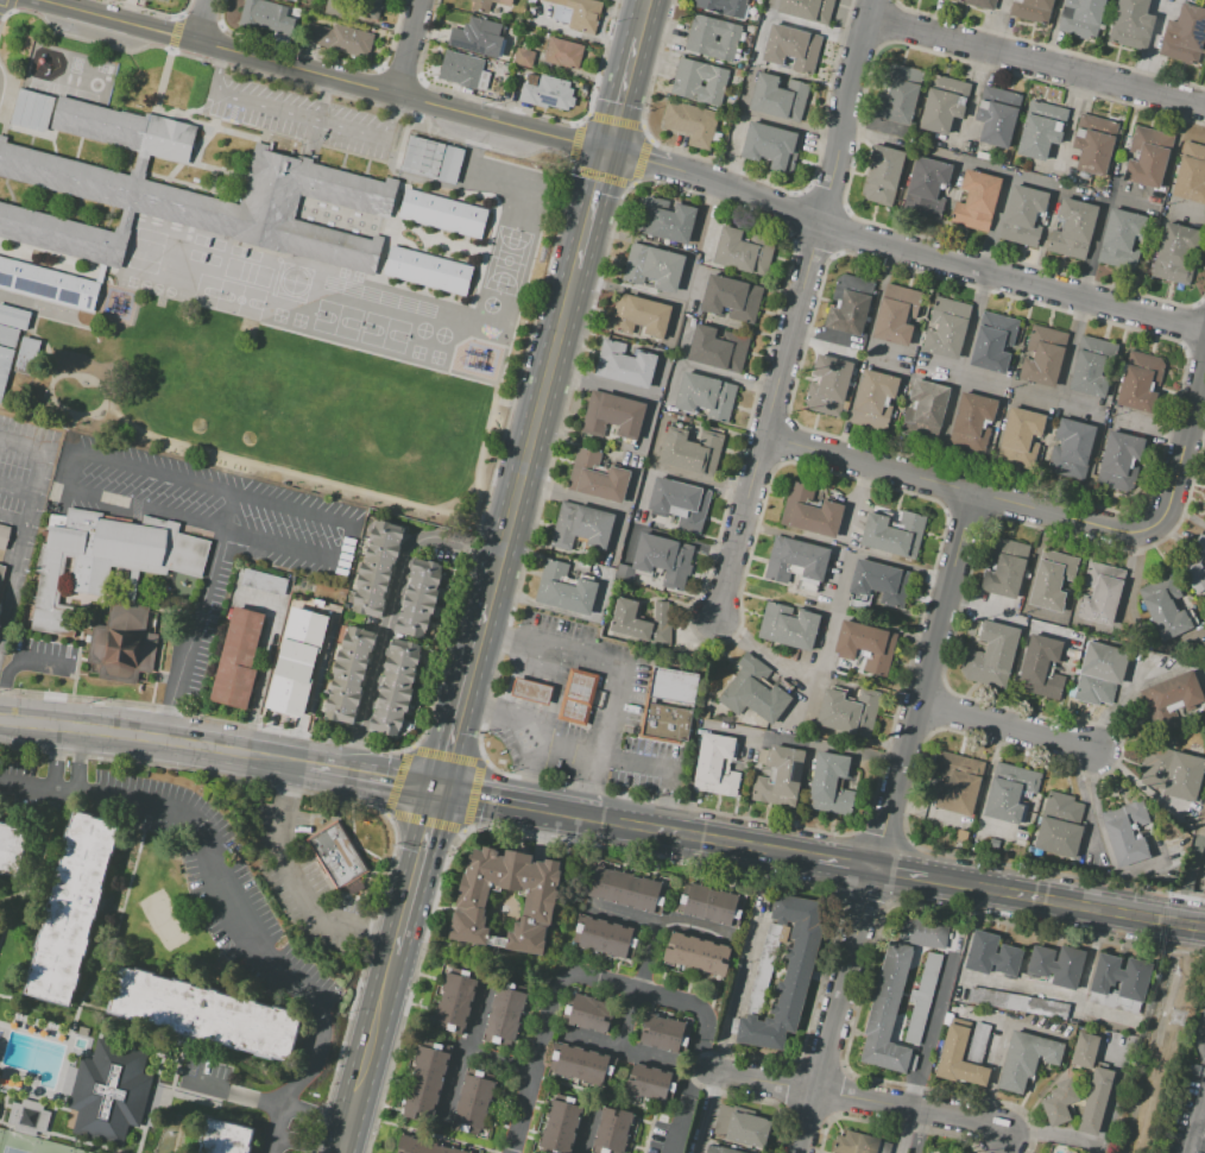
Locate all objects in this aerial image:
building: (170, 0)
building: (292, 0)
building: (744, 0)
building: (163, 1)
building: (982, 2)
building: (487, 5)
road: (8, 6)
building: (721, 6)
building: (370, 7)
building: (807, 10)
building: (1030, 10)
road: (154, 12)
building: (583, 14)
building: (1080, 18)
road: (641, 19)
road: (198, 20)
road: (202, 20)
building: (263, 20)
road: (885, 21)
building: (1131, 24)
building: (714, 29)
road: (174, 32)
road: (93, 33)
building: (475, 36)
building: (1184, 36)
building: (341, 38)
road: (862, 39)
road: (406, 45)
road: (1047, 45)
building: (709, 46)
building: (791, 49)
building: (563, 52)
road: (321, 55)
building: (524, 58)
road: (1035, 61)
building: (460, 69)
road: (327, 73)
building: (701, 73)
road: (399, 74)
track: (63, 89)
building: (695, 90)
building: (544, 94)
road: (622, 94)
building: (897, 95)
building: (777, 97)
building: (942, 105)
road: (521, 109)
building: (32, 111)
road: (841, 111)
road: (301, 114)
building: (997, 115)
building: (675, 116)
road: (613, 119)
building: (700, 127)
building: (1040, 131)
building: (1093, 144)
road: (854, 145)
building: (771, 146)
building: (982, 149)
traffic signals: (608, 152)
building: (421, 156)
building: (1147, 158)
road: (641, 162)
building: (449, 164)
road: (602, 175)
building: (1191, 175)
building: (883, 176)
road: (750, 177)
road: (714, 187)
building: (927, 187)
road: (1056, 187)
road: (819, 201)
building: (977, 201)
building: (174, 202)
road: (593, 209)
road: (787, 209)
building: (444, 213)
building: (1023, 215)
building: (664, 219)
building: (1073, 229)
building: (1121, 229)
road: (839, 231)
park: (208, 241)
park: (146, 245)
road: (812, 246)
building: (744, 251)
park: (244, 252)
building: (1176, 253)
park: (144, 254)
park: (203, 257)
park: (506, 259)
building: (650, 266)
park: (246, 271)
building: (428, 271)
road: (1011, 277)
park: (291, 282)
park: (206, 291)
track: (378, 296)
building: (731, 297)
park: (238, 300)
road: (1200, 303)
park: (490, 304)
building: (851, 305)
building: (636, 314)
building: (896, 315)
building: (13, 316)
park: (336, 319)
road: (972, 320)
road: (1190, 325)
building: (946, 328)
park: (422, 329)
road: (793, 329)
park: (384, 332)
road: (825, 334)
building: (7, 335)
park: (441, 335)
building: (992, 341)
road: (1071, 348)
building: (718, 349)
road: (1194, 349)
building: (25, 354)
building: (1043, 355)
building: (5, 364)
building: (622, 365)
building: (1091, 367)
road: (980, 377)
building: (1140, 382)
park: (175, 384)
building: (828, 388)
building: (704, 396)
building: (875, 399)
building: (928, 403)
building: (612, 414)
park: (288, 415)
road: (790, 416)
building: (972, 423)
road: (1150, 423)
road: (1185, 435)
road: (531, 436)
building: (1021, 436)
building: (1072, 447)
building: (690, 452)
building: (1119, 461)
road: (42, 462)
road: (868, 464)
road: (68, 465)
building: (595, 477)
road: (951, 491)
road: (17, 493)
road: (990, 500)
building: (680, 502)
building: (809, 511)
road: (14, 516)
road: (1070, 516)
road: (965, 517)
building: (1204, 523)
building: (580, 527)
road: (739, 527)
building: (894, 534)
building: (4, 536)
road: (351, 542)
road: (845, 550)
building: (663, 560)
building: (795, 560)
building: (1195, 565)
building: (1, 567)
building: (377, 567)
building: (1005, 567)
building: (49, 574)
road: (13, 578)
building: (1048, 579)
building: (102, 580)
building: (881, 582)
building: (562, 587)
building: (1100, 593)
building: (417, 598)
building: (1166, 606)
road: (393, 610)
road: (197, 619)
building: (642, 620)
building: (788, 625)
building: (128, 643)
building: (244, 644)
building: (866, 645)
building: (991, 655)
building: (299, 657)
road: (264, 663)
road: (818, 668)
building: (1041, 668)
road: (907, 669)
road: (618, 670)
building: (1099, 674)
building: (349, 675)
road: (923, 678)
building: (671, 686)
building: (395, 687)
building: (528, 689)
gas station: (528, 689)
building: (753, 691)
building: (1176, 692)
building: (575, 695)
road: (463, 697)
road: (1119, 704)
building: (850, 712)
building: (664, 719)
road: (1008, 725)
road: (534, 729)
road: (1112, 729)
road: (750, 733)
road: (569, 737)
road: (154, 744)
road: (447, 752)
road: (52, 761)
road: (77, 764)
building: (717, 765)
road: (340, 767)
road: (664, 768)
building: (1173, 775)
building: (778, 776)
road: (397, 780)
road: (403, 781)
building: (831, 782)
building: (958, 782)
road: (288, 786)
road: (985, 787)
traffic signals: (439, 788)
building: (1009, 792)
road: (473, 794)
road: (522, 802)
road: (423, 821)
road: (637, 823)
building: (1060, 824)
building: (1127, 832)
building: (961, 836)
road: (879, 838)
road: (743, 842)
building: (993, 843)
building: (14, 850)
building: (337, 855)
road: (667, 857)
road: (846, 859)
road: (904, 869)
road: (417, 871)
road: (298, 887)
building: (627, 887)
road: (235, 896)
building: (711, 900)
road: (1068, 900)
building: (74, 909)
building: (471, 911)
road: (660, 921)
park: (166, 922)
building: (925, 933)
road: (381, 934)
building: (605, 938)
building: (698, 954)
building: (991, 956)
building: (764, 959)
building: (1058, 965)
building: (787, 975)
building: (1121, 976)
road: (639, 985)
road: (633, 989)
road: (1070, 995)
building: (923, 997)
building: (454, 1003)
building: (1018, 1003)
road: (839, 1008)
road: (1100, 1010)
building: (197, 1013)
building: (588, 1013)
building: (888, 1013)
building: (504, 1015)
power tower: (1182, 1025)
building: (84, 1031)
building: (664, 1032)
road: (727, 1032)
road: (373, 1042)
building: (978, 1042)
road: (467, 1044)
road: (929, 1046)
road: (619, 1048)
building: (1085, 1051)
building: (959, 1058)
building: (1026, 1058)
road: (501, 1059)
road: (538, 1060)
building: (581, 1066)
building: (424, 1080)
road: (693, 1080)
building: (651, 1084)
building: (112, 1091)
road: (851, 1096)
road: (235, 1098)
building: (474, 1100)
building: (1060, 1101)
building: (1096, 1101)
road: (1115, 1101)
building: (30, 1119)
road: (1197, 1120)
road: (320, 1121)
parking lot: (1188, 1123)
building: (742, 1126)
building: (560, 1127)
road: (587, 1129)
building: (612, 1132)
road: (923, 1133)
road: (1052, 1135)
building: (223, 1139)
road: (348, 1141)
building: (856, 1142)
park: (29, 1145)
road: (305, 1146)
building: (425, 1146)
building: (719, 1149)
road: (1102, 1149)

